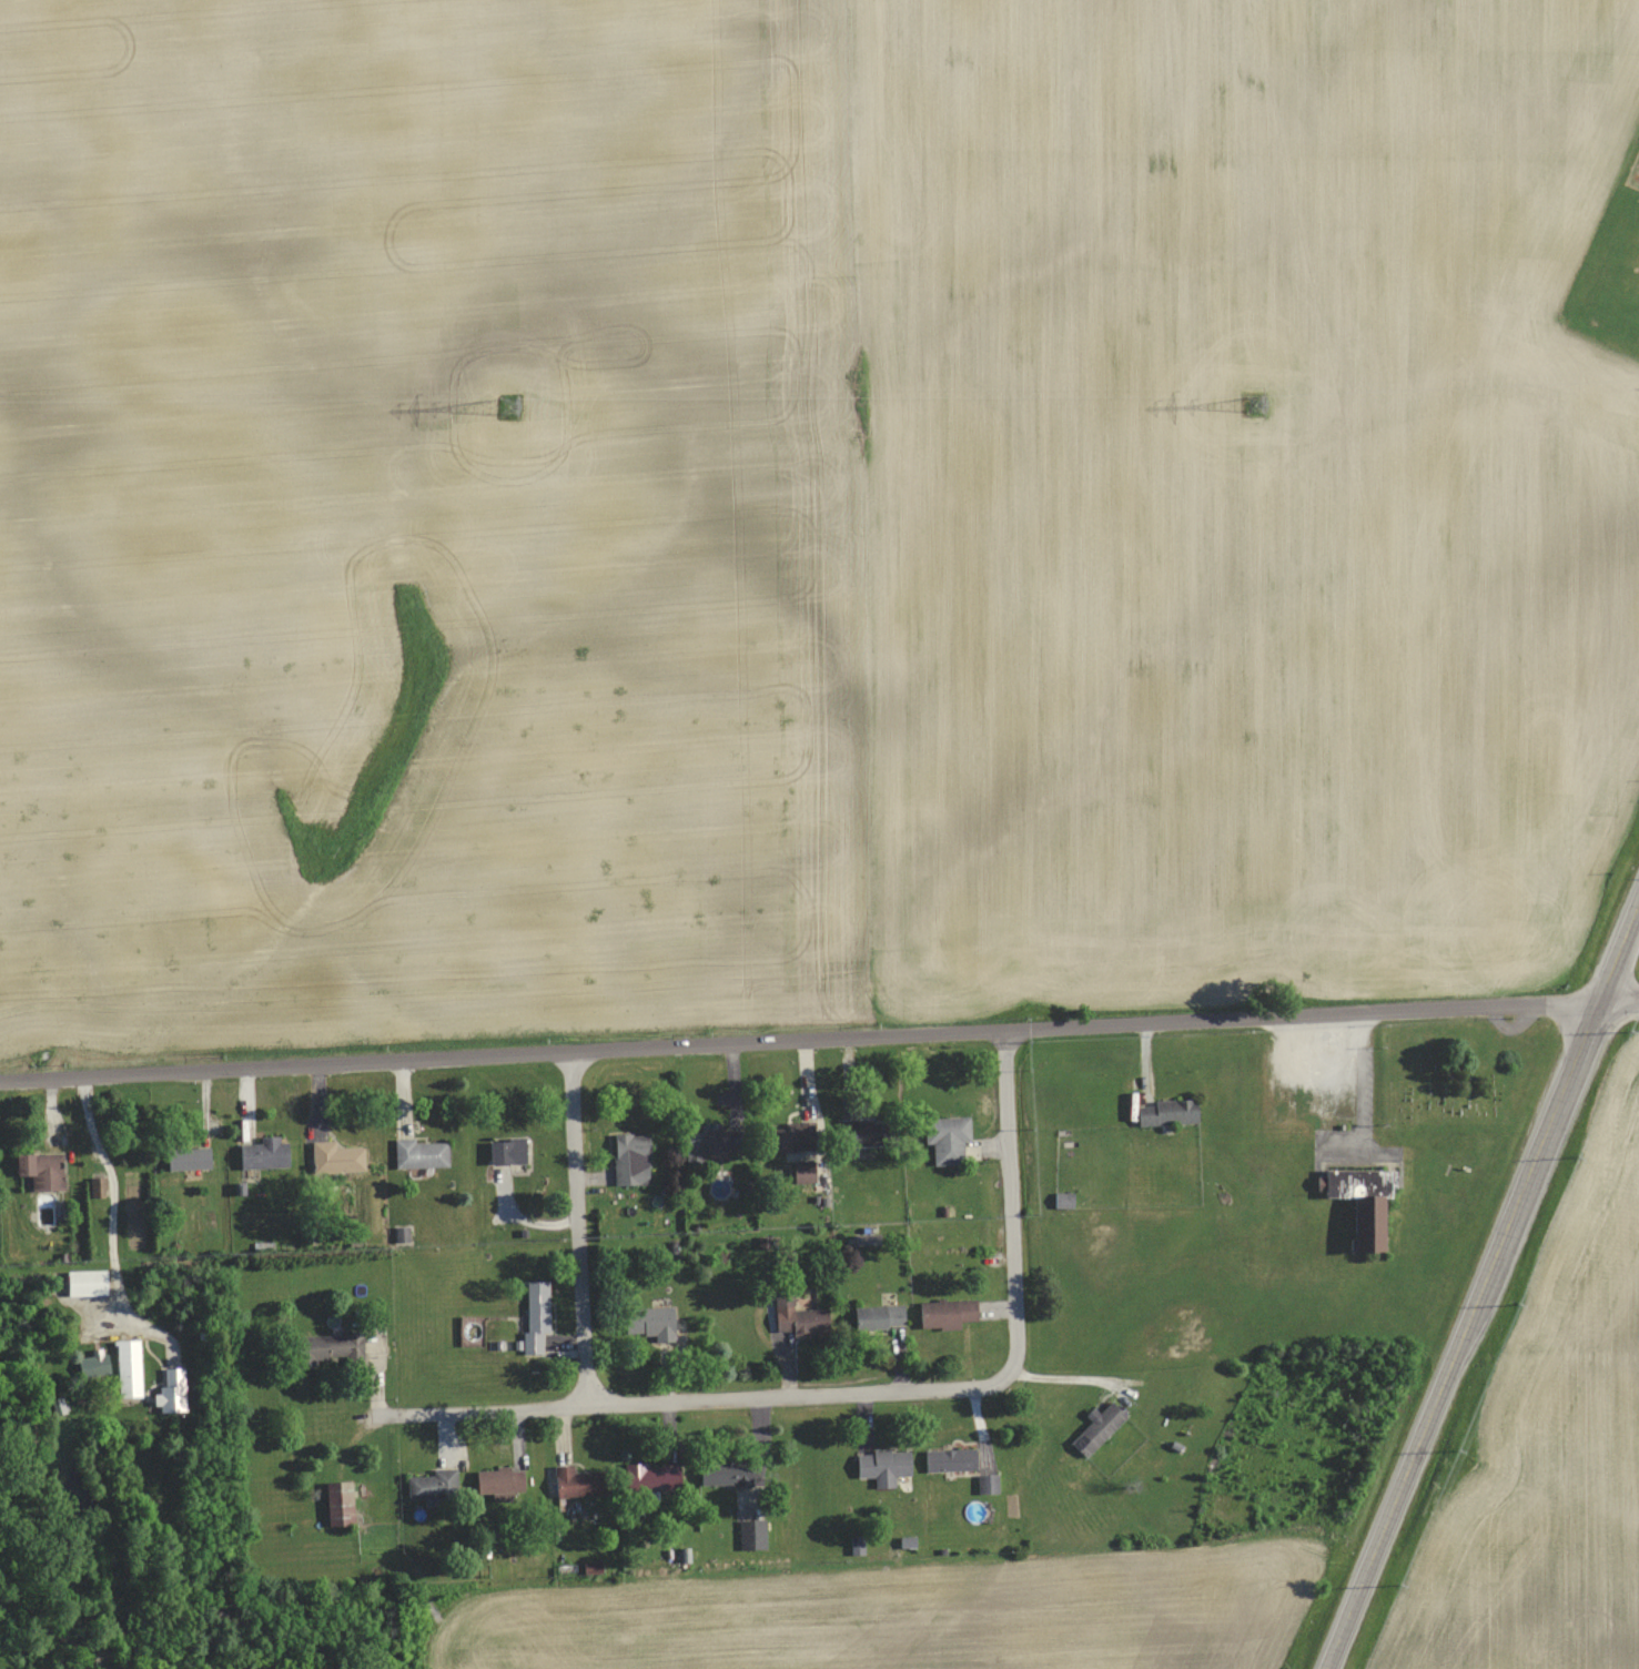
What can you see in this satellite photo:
power tower: (517, 403)
power tower: (1257, 403)
road: (819, 1036)
building: (1165, 1111)
building: (791, 1134)
building: (947, 1139)
building: (706, 1140)
building: (507, 1149)
building: (421, 1152)
building: (264, 1153)
building: (188, 1157)
building: (336, 1157)
building: (631, 1157)
building: (40, 1170)
building: (1362, 1188)
road: (1012, 1201)
road: (576, 1226)
building: (84, 1282)
road: (1487, 1296)
building: (945, 1313)
building: (796, 1315)
building: (536, 1316)
building: (879, 1317)
building: (648, 1326)
building: (346, 1346)
building: (129, 1364)
road: (1065, 1380)
road: (704, 1396)
building: (1097, 1428)
building: (943, 1458)
building: (882, 1463)
building: (725, 1471)
building: (652, 1476)
building: (499, 1481)
building: (578, 1481)
building: (434, 1484)
building: (338, 1503)
building: (751, 1534)

